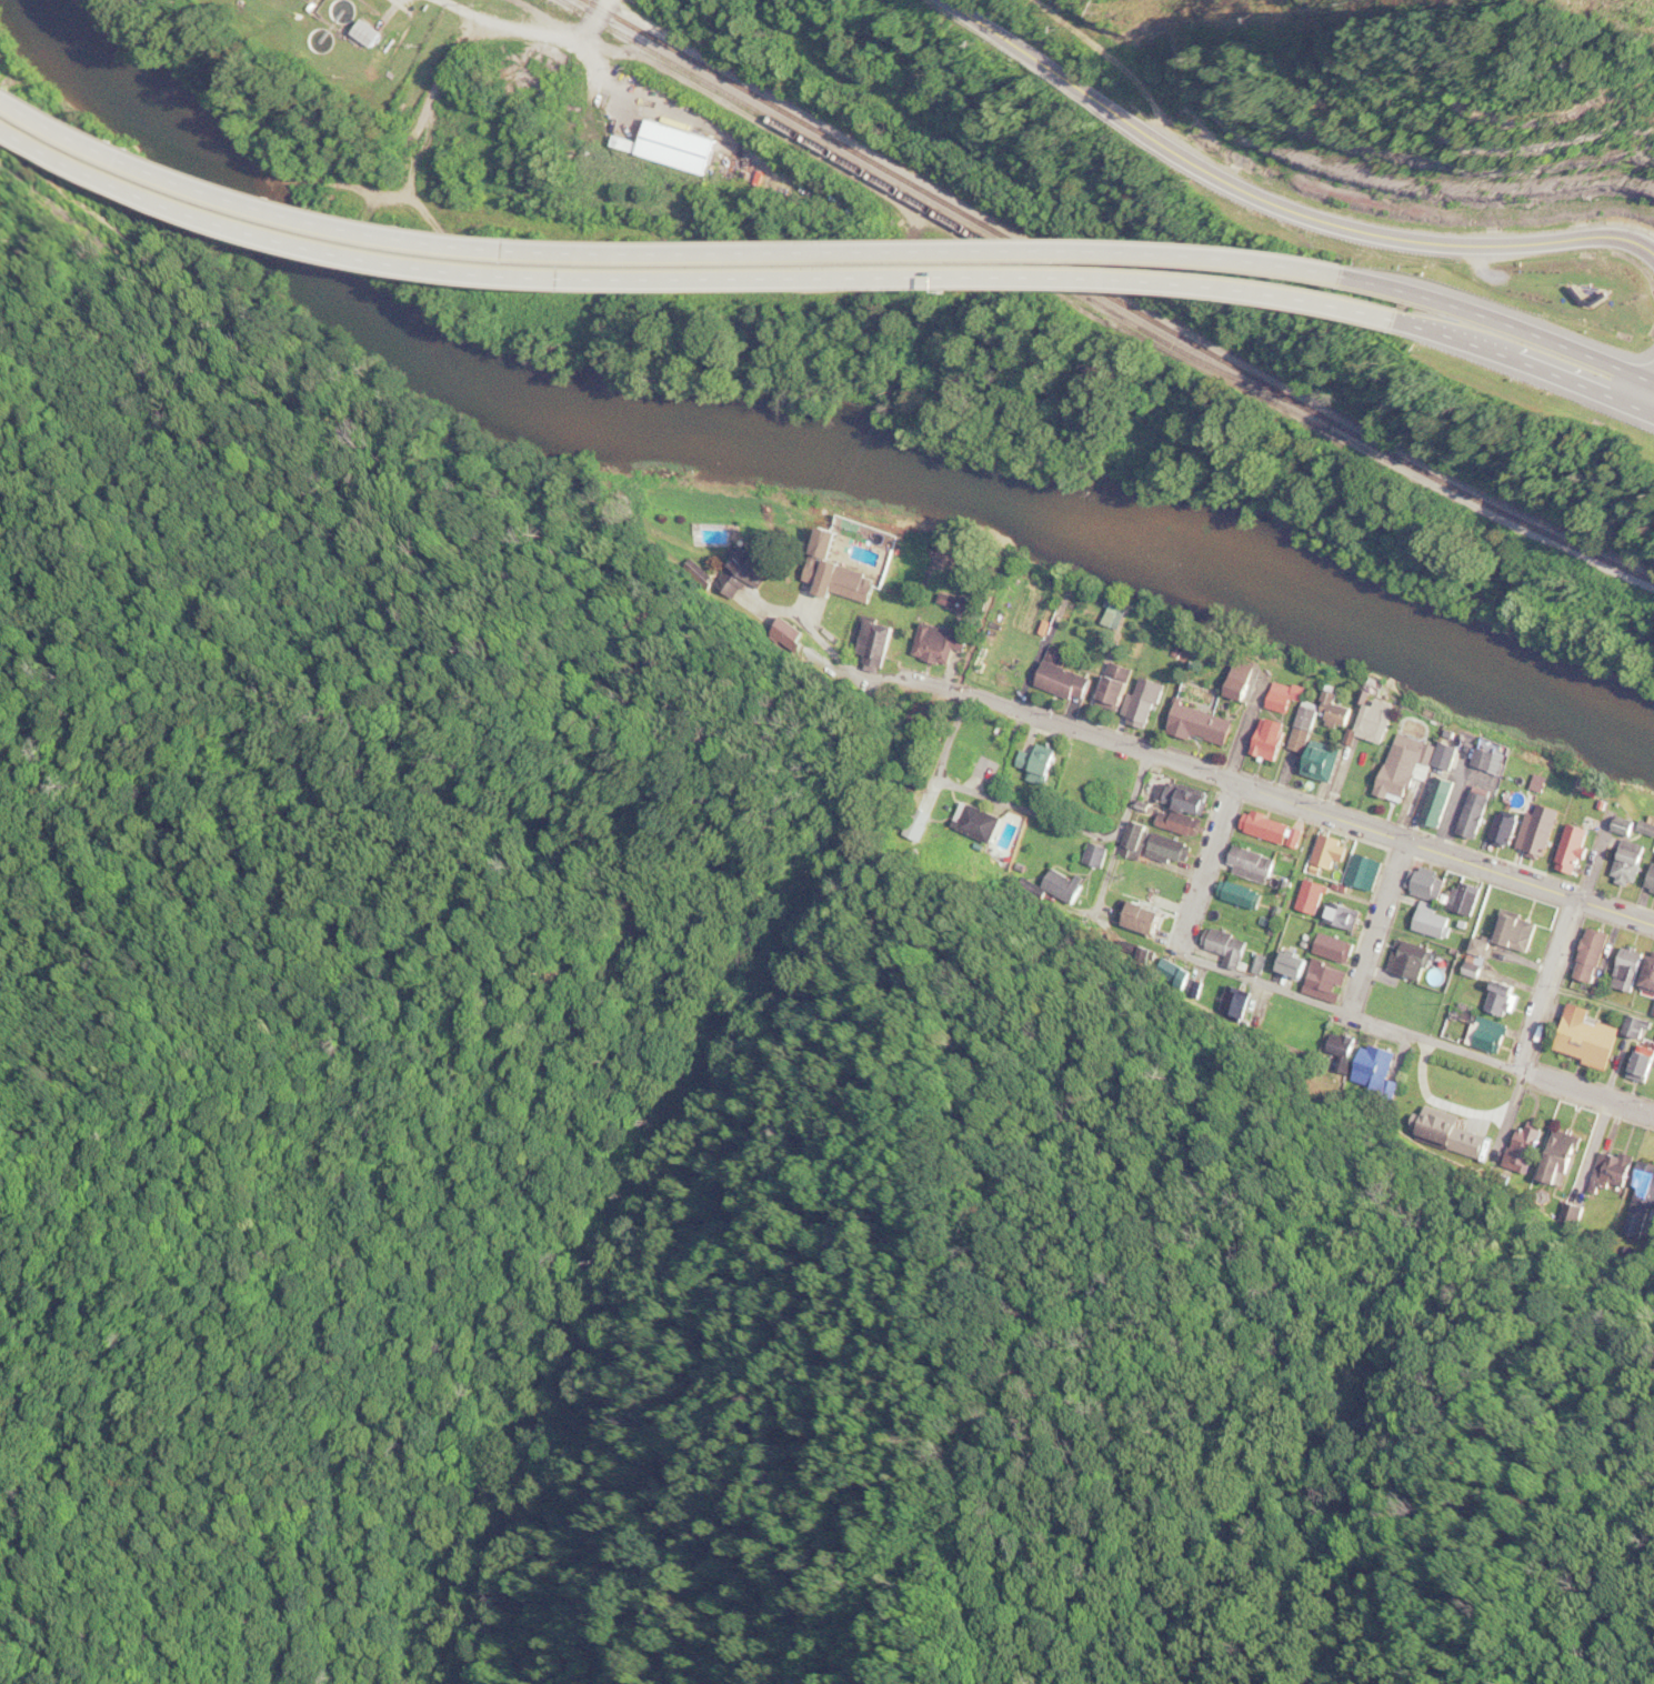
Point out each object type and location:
road: (501, 29)
building: (364, 32)
building: (680, 147)
road: (1334, 228)
road: (664, 263)
road: (692, 287)
railway: (1105, 294)
road: (1510, 324)
road: (1532, 371)
river: (793, 444)
building: (722, 534)
building: (748, 572)
building: (851, 573)
building: (961, 598)
building: (1126, 614)
building: (828, 617)
building: (886, 639)
building: (954, 645)
building: (1185, 653)
building: (1206, 664)
building: (1076, 676)
building: (1239, 676)
building: (1124, 690)
building: (1254, 691)
building: (1311, 693)
building: (1374, 695)
building: (1290, 698)
building: (1155, 700)
building: (1333, 710)
building: (1345, 711)
building: (1371, 721)
building: (1387, 722)
building: (1213, 725)
building: (1302, 728)
building: (1314, 729)
building: (1267, 738)
building: (1281, 740)
road: (974, 743)
building: (1456, 754)
building: (1442, 755)
building: (1332, 760)
building: (1498, 761)
building: (1050, 765)
building: (1414, 769)
road: (1284, 784)
building: (1550, 784)
road: (1273, 794)
building: (1189, 796)
building: (1435, 801)
building: (1448, 801)
building: (1614, 805)
building: (1473, 811)
road: (1043, 812)
building: (1486, 813)
road: (1133, 816)
building: (976, 820)
building: (1182, 822)
building: (1280, 829)
building: (1502, 829)
building: (1536, 829)
building: (1637, 829)
building: (1652, 829)
building: (1551, 830)
building: (1515, 831)
building: (1141, 840)
building: (1171, 848)
road: (1407, 848)
building: (1571, 848)
building: (1585, 849)
building: (1335, 854)
building: (1100, 856)
building: (1257, 862)
building: (1627, 862)
road: (1205, 865)
building: (1640, 866)
building: (1372, 872)
building: (1062, 882)
building: (1431, 882)
building: (1242, 894)
building: (1317, 894)
building: (1472, 898)
building: (1150, 916)
building: (1349, 916)
building: (1439, 923)
road: (1380, 926)
building: (1525, 931)
building: (1227, 943)
building: (1339, 948)
building: (1486, 950)
building: (1600, 954)
building: (1414, 959)
road: (1360, 960)
building: (1296, 964)
building: (1179, 966)
building: (1636, 969)
building: (1478, 970)
building: (1647, 976)
road: (1263, 981)
building: (1327, 982)
road: (1552, 983)
building: (1507, 1000)
building: (1237, 1001)
road: (1360, 1008)
road: (1553, 1012)
building: (1653, 1014)
building: (1471, 1016)
building: (1643, 1026)
building: (1594, 1038)
building: (1492, 1041)
building: (1340, 1048)
road: (1528, 1059)
building: (1369, 1061)
road: (1501, 1061)
building: (1646, 1067)
building: (1466, 1139)
building: (1526, 1141)
building: (1562, 1147)
building: (1614, 1170)
building: (1644, 1177)

